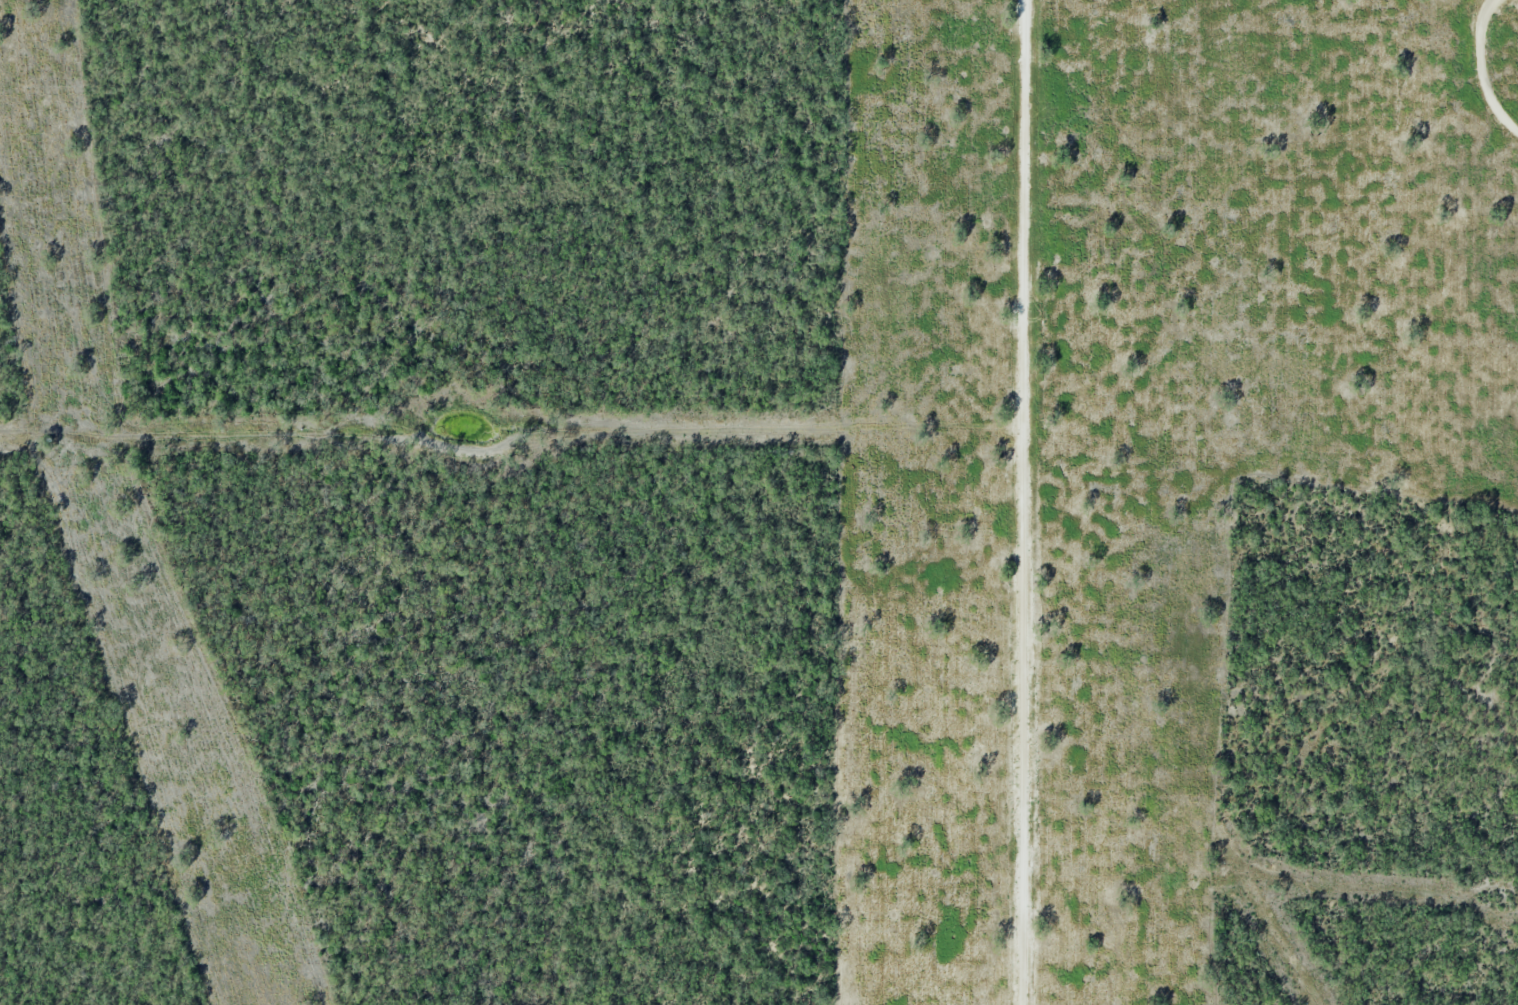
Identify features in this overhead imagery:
road: (1019, 502)

